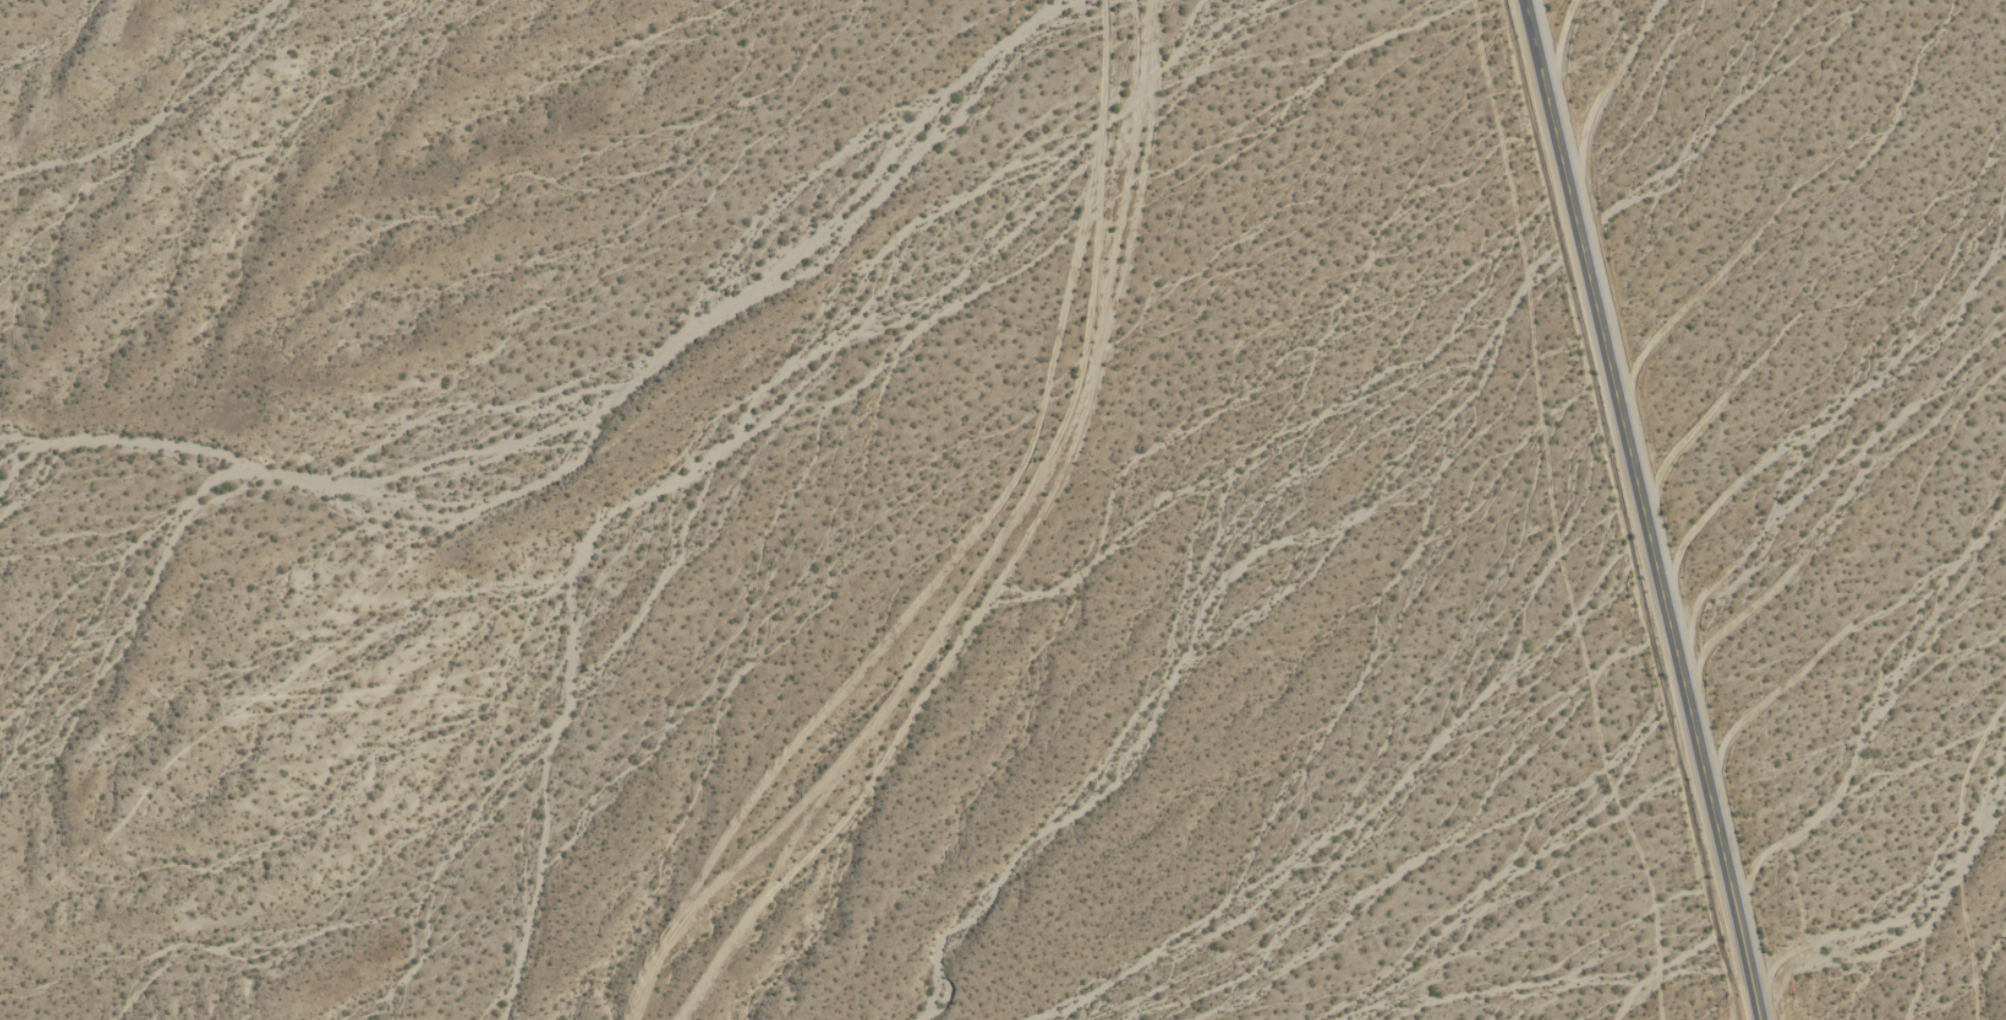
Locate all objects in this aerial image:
road: (1641, 510)

